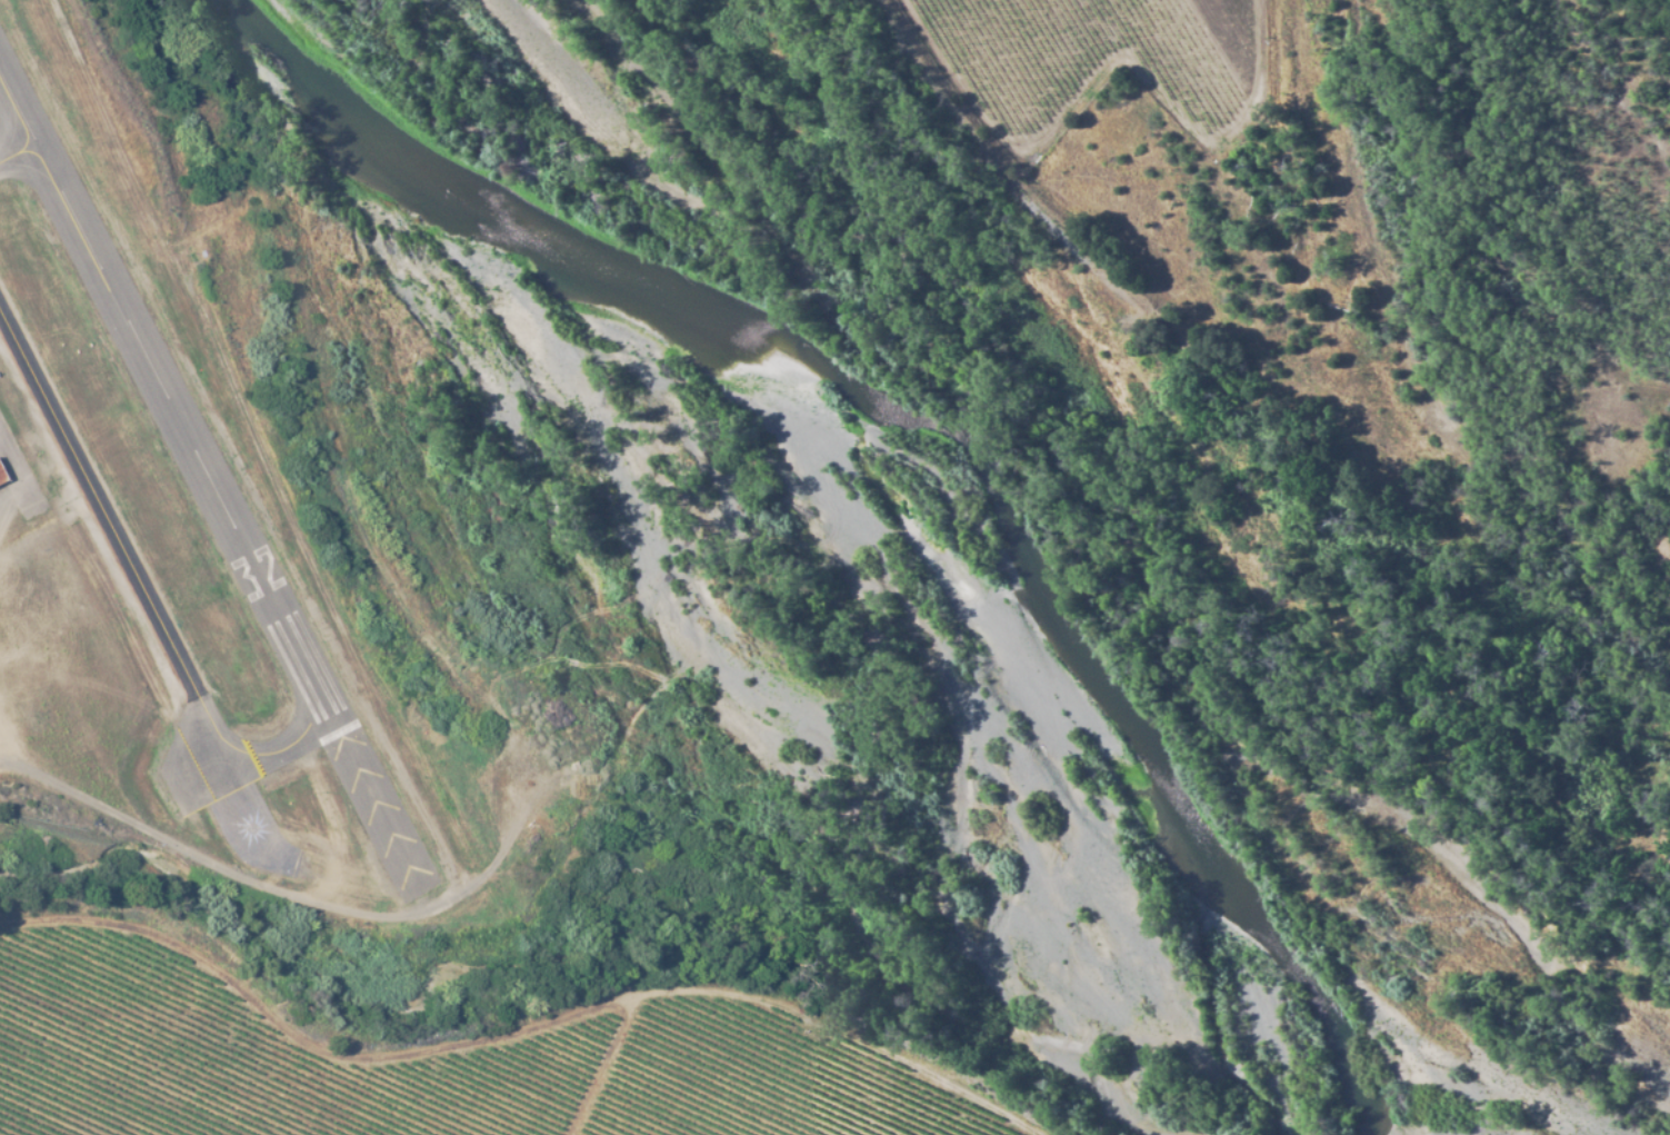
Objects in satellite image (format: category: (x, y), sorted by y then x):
airport taxiway: (22, 160)
airport runway: (128, 311)
river: (946, 439)
airport hangar: (1, 477)
building: (1, 477)
airport apron: (16, 479)
airport: (181, 546)
airport taxiway: (248, 785)

